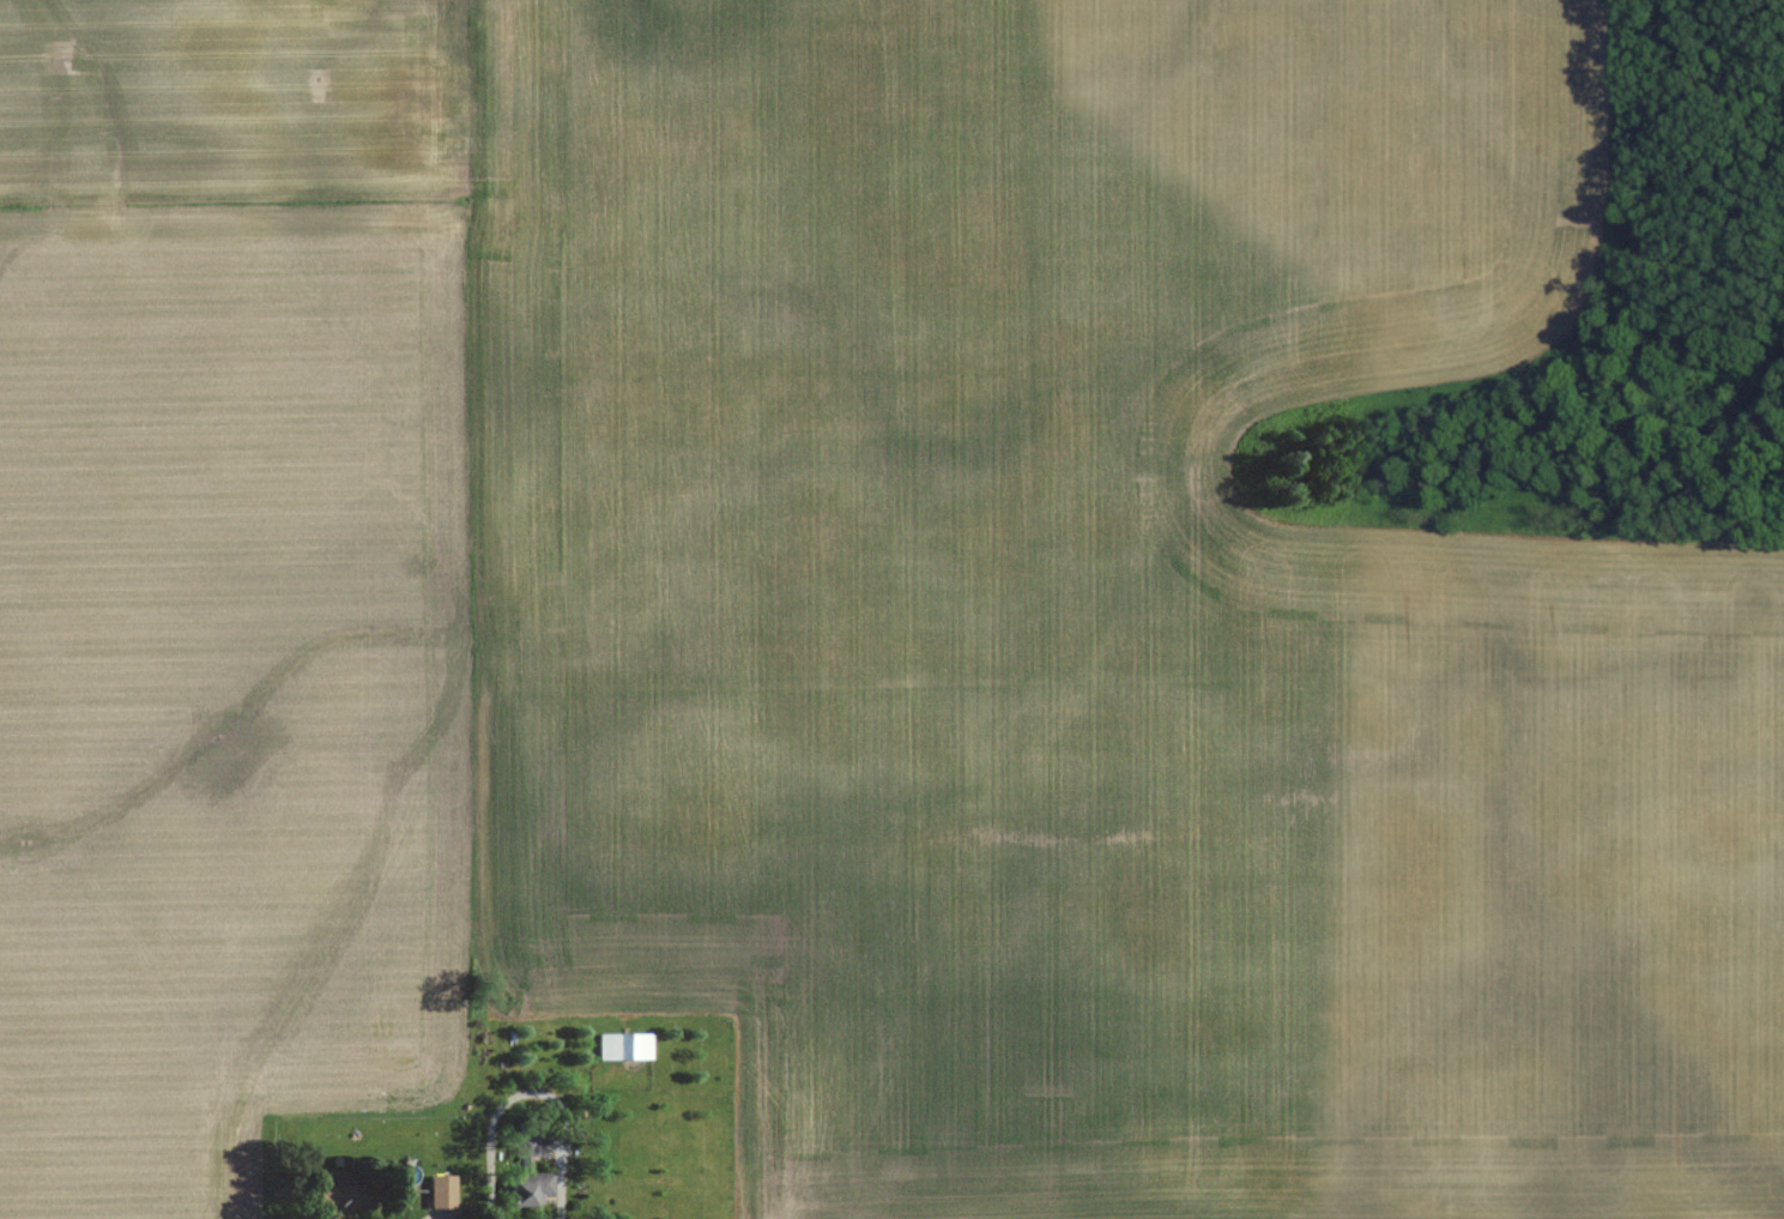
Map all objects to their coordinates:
road: (1631, 339)
building: (625, 1045)
building: (531, 1188)
building: (443, 1190)
building: (344, 1194)

